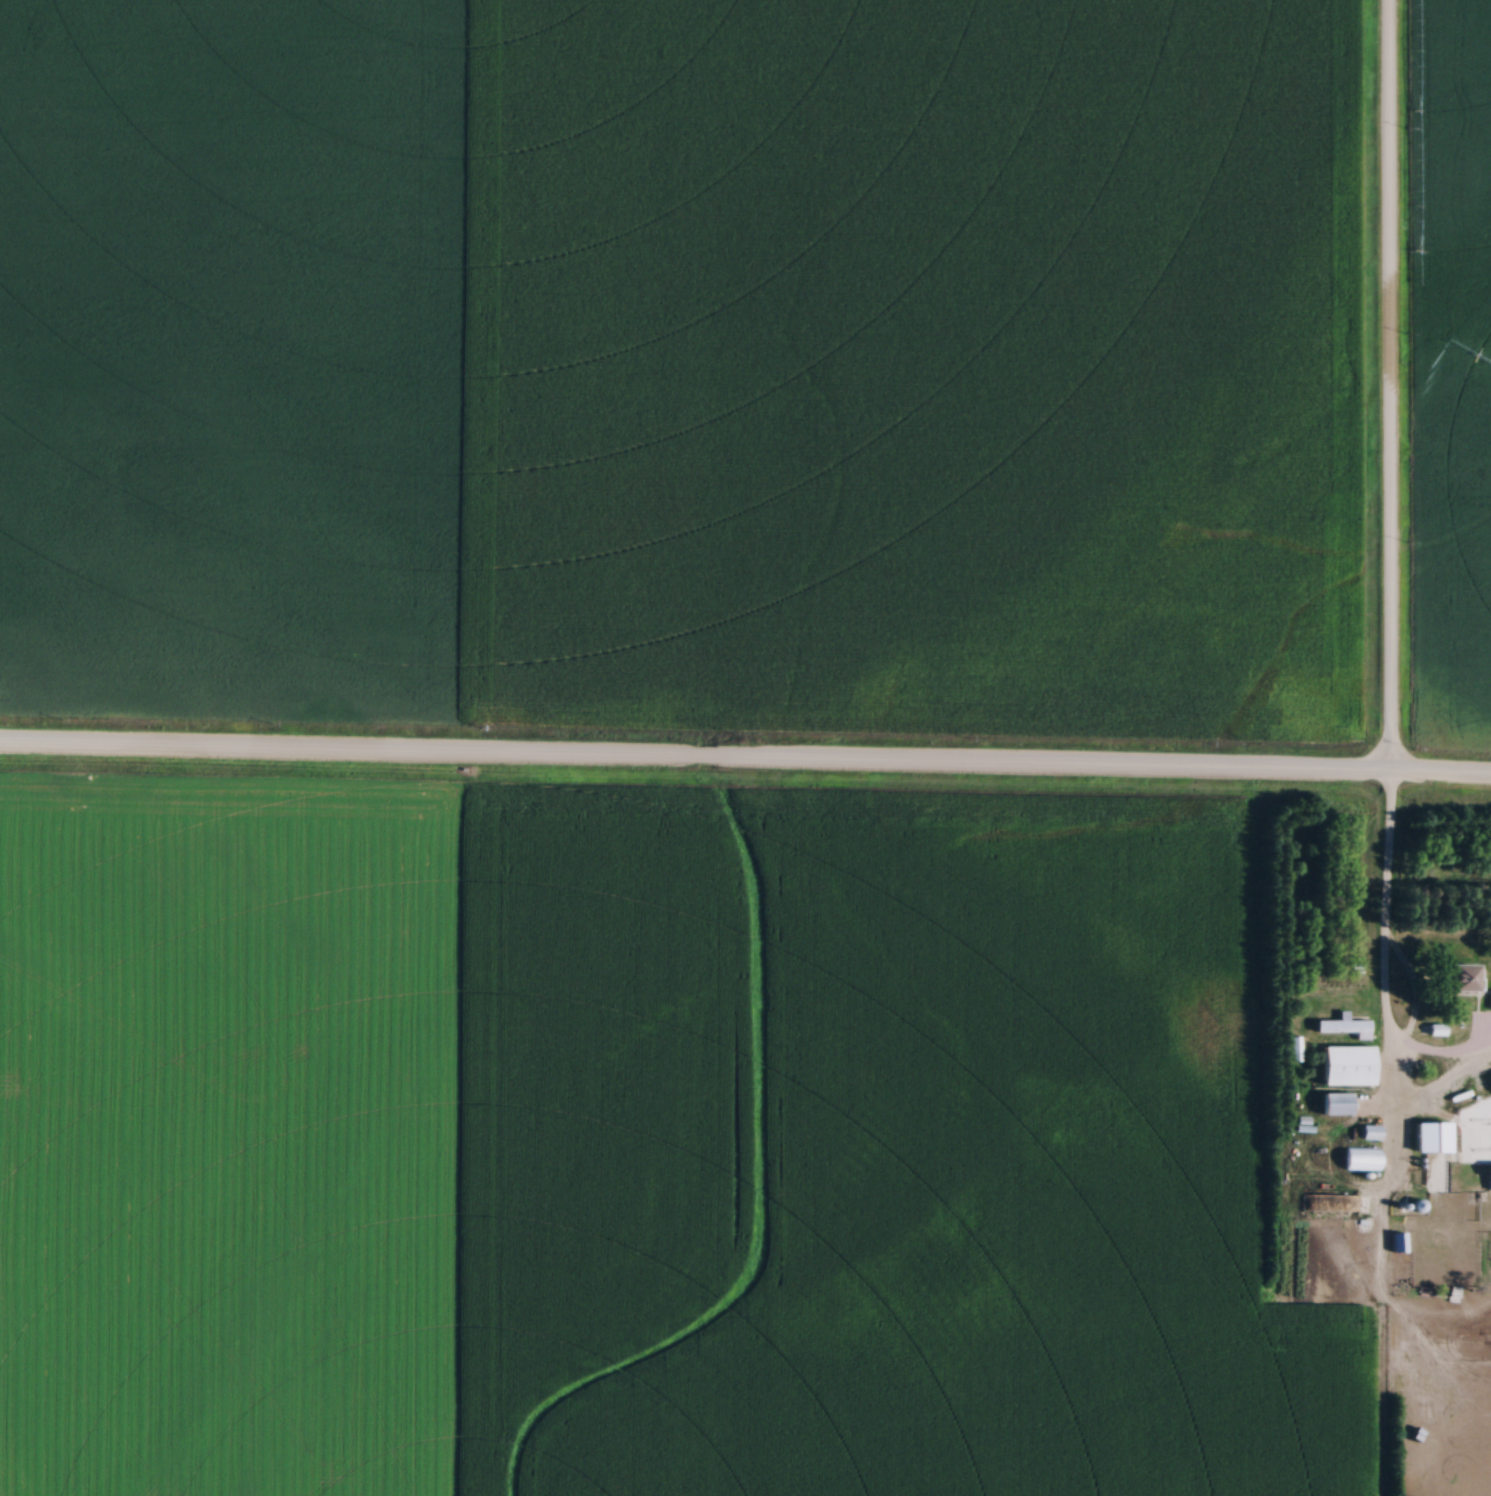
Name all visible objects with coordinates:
road: (1391, 388)
road: (745, 763)
road: (1384, 970)
building: (1462, 977)
building: (1344, 1025)
building: (1295, 1048)
building: (1346, 1064)
building: (1335, 1103)
building: (1370, 1131)
building: (1431, 1136)
building: (1361, 1158)
building: (1489, 1176)
building: (1314, 1203)
building: (1398, 1242)

